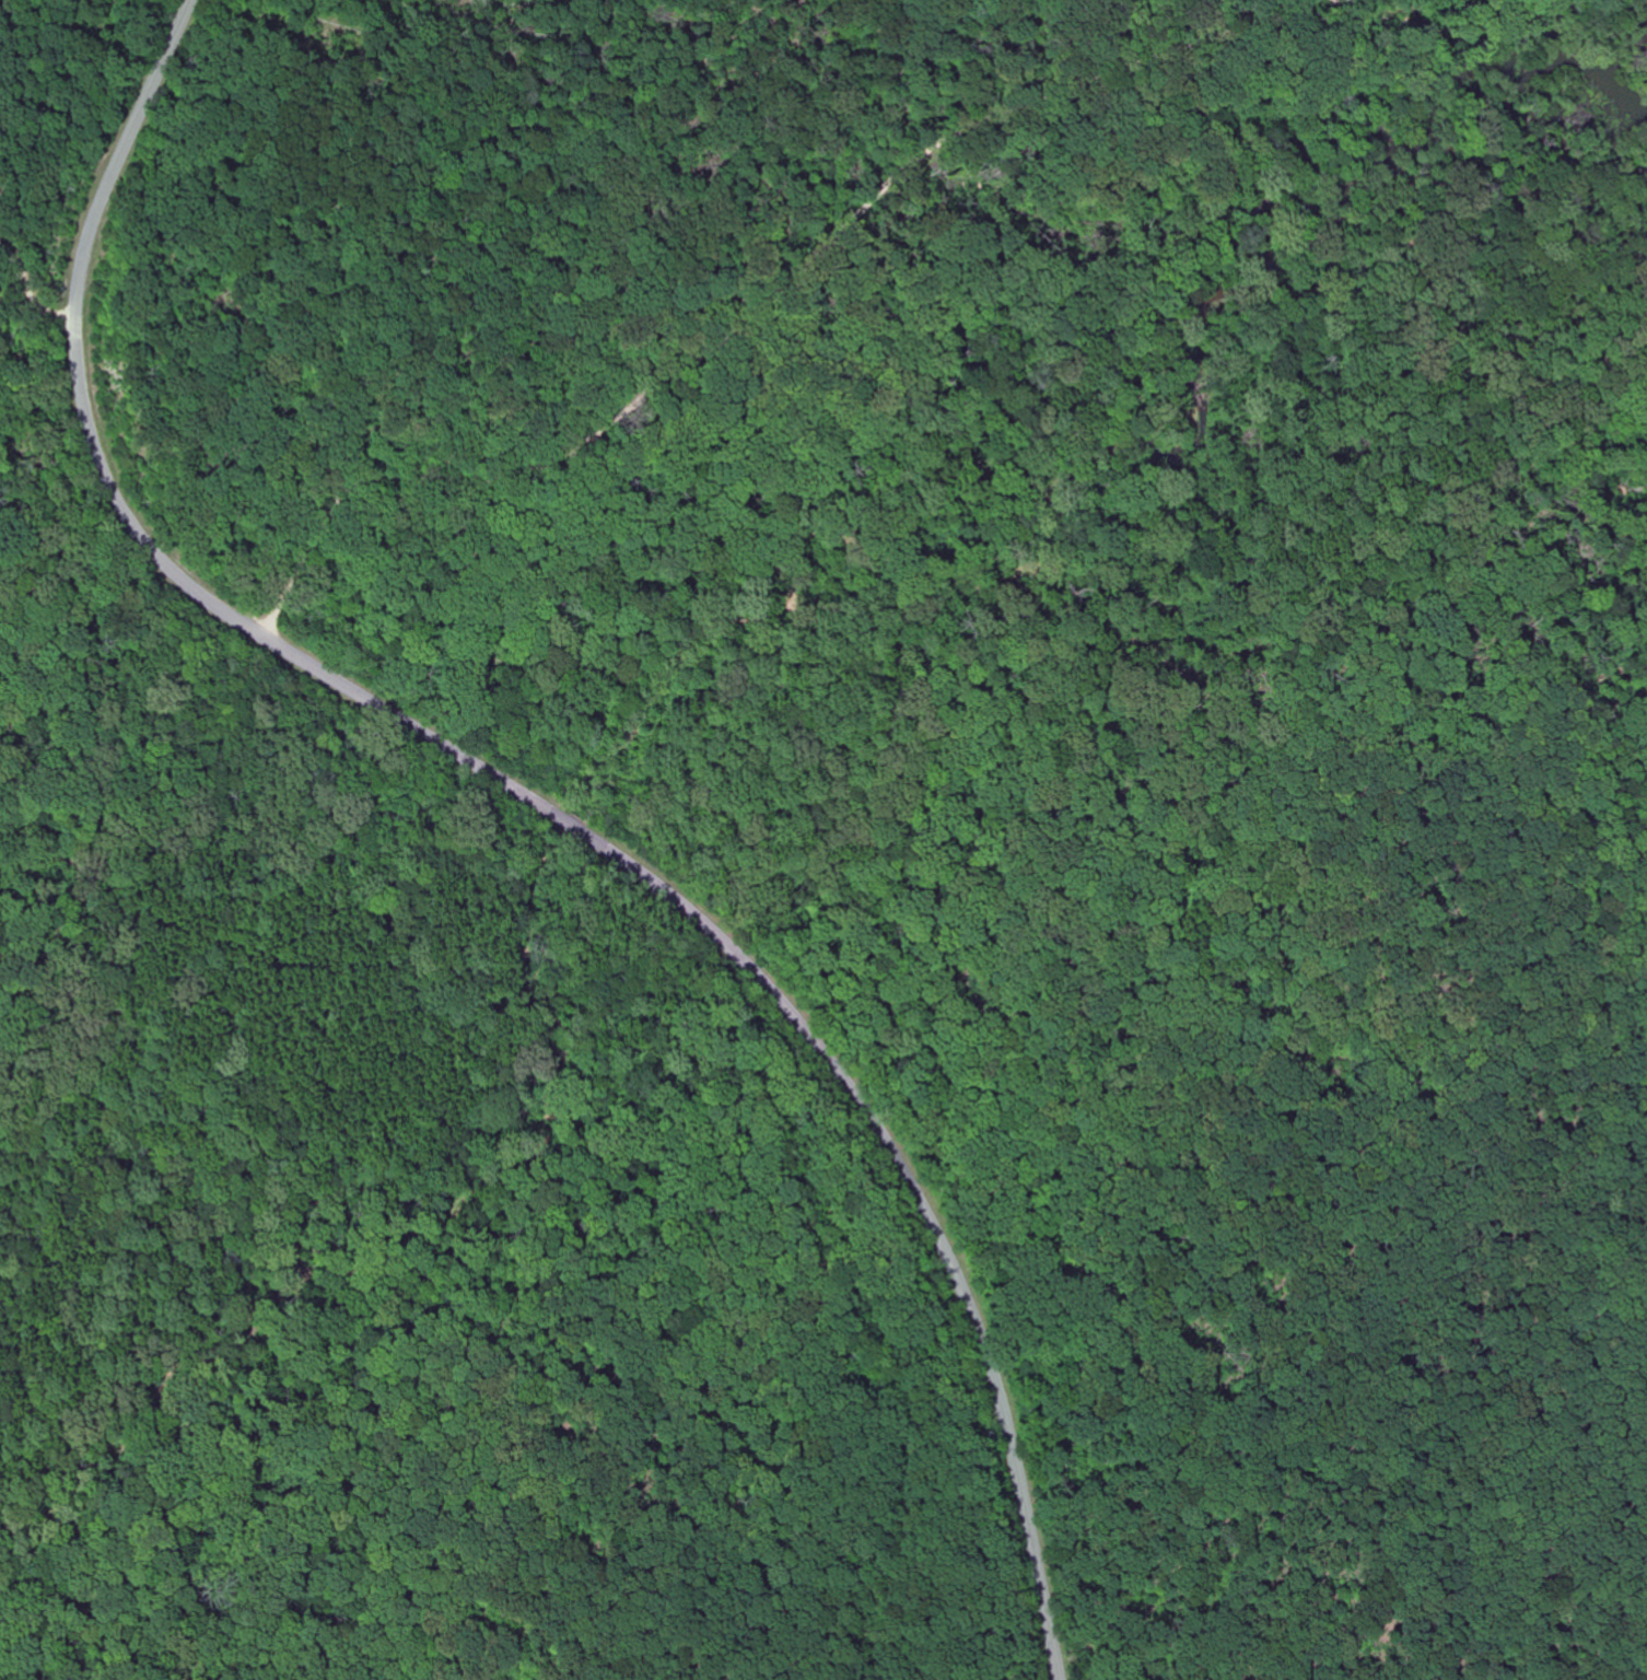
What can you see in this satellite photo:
road: (766, 291)
road: (30, 294)
road: (375, 681)
road: (540, 805)
road: (1535, 1653)

